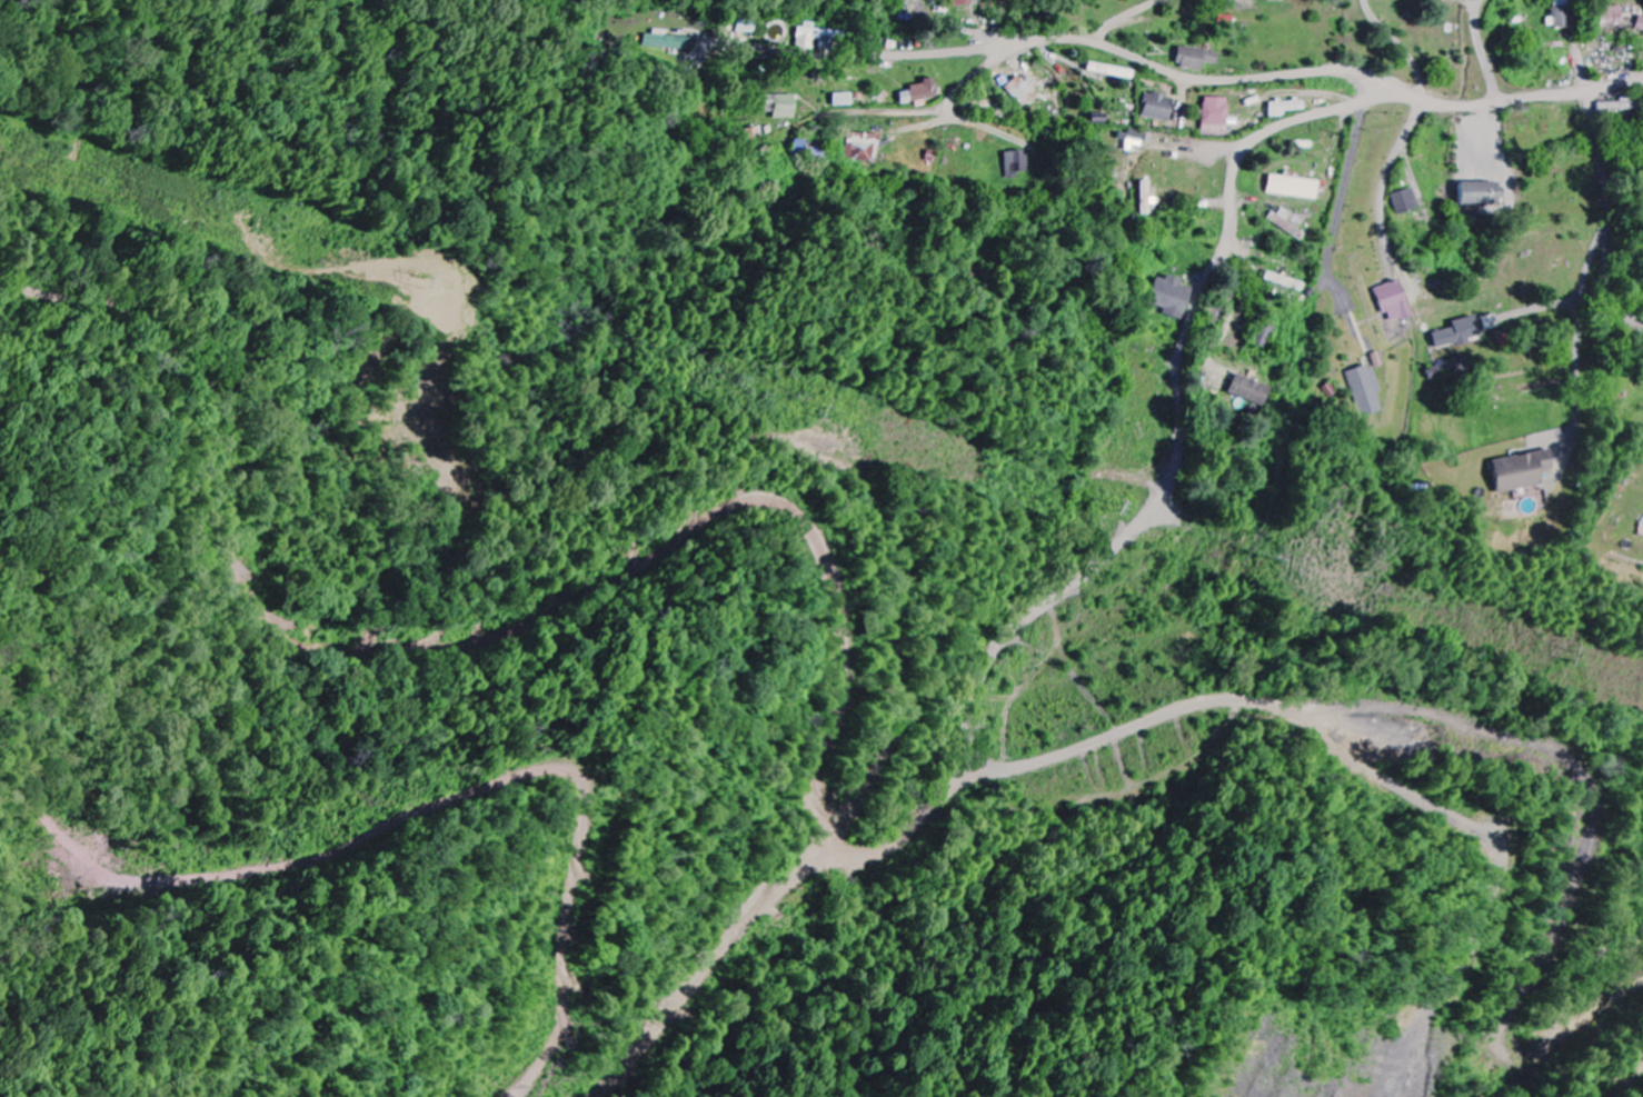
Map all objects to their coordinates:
building: (967, 1)
building: (1612, 14)
building: (1565, 16)
building: (1641, 22)
road: (965, 31)
building: (816, 37)
building: (664, 41)
road: (1423, 51)
road: (1486, 51)
road: (873, 56)
building: (1197, 58)
building: (1116, 71)
road: (1242, 79)
building: (1025, 89)
building: (922, 92)
building: (844, 99)
building: (781, 104)
building: (1621, 106)
building: (1158, 107)
building: (1286, 107)
building: (1217, 114)
road: (826, 117)
road: (1502, 123)
building: (755, 133)
building: (1136, 138)
building: (864, 147)
building: (1018, 162)
building: (1295, 187)
road: (1387, 189)
road: (1345, 192)
building: (1482, 193)
building: (1147, 198)
building: (1407, 200)
road: (1610, 213)
road: (1231, 219)
building: (1288, 222)
building: (1171, 296)
building: (1397, 301)
building: (1461, 332)
building: (1266, 335)
building: (1368, 389)
building: (1254, 390)
power tower: (840, 415)
building: (1527, 469)
road: (1042, 607)

